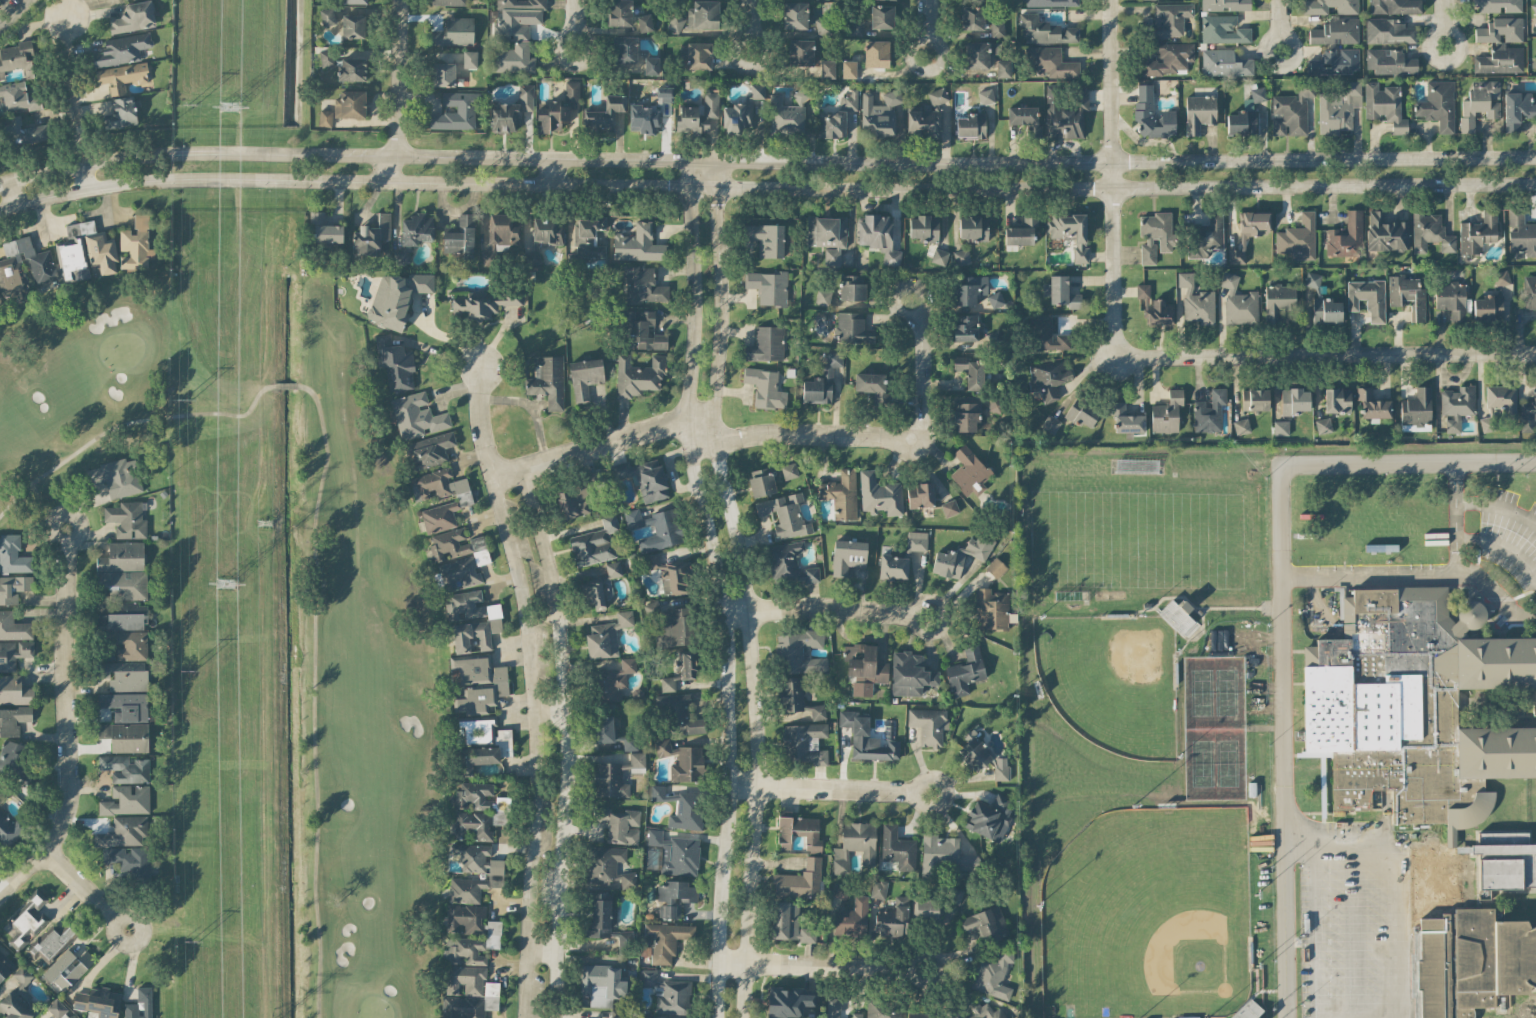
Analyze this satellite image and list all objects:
building: (126, 0)
building: (355, 1)
building: (449, 2)
building: (1047, 2)
building: (1224, 5)
building: (1498, 5)
building: (1395, 6)
building: (1534, 6)
building: (1314, 9)
building: (619, 12)
road: (15, 13)
building: (703, 14)
building: (795, 15)
building: (327, 16)
building: (882, 16)
building: (133, 17)
building: (971, 17)
building: (1170, 19)
building: (674, 21)
building: (644, 22)
road: (573, 24)
building: (996, 24)
road: (1443, 24)
building: (822, 25)
building: (353, 26)
road: (1279, 26)
road: (750, 27)
building: (856, 27)
road: (925, 27)
building: (1222, 29)
building: (1044, 30)
building: (1388, 30)
building: (1500, 30)
building: (1335, 31)
building: (454, 32)
building: (515, 34)
building: (121, 49)
building: (625, 49)
building: (802, 50)
building: (877, 53)
building: (977, 54)
building: (699, 55)
building: (326, 57)
building: (1168, 58)
building: (16, 59)
building: (469, 59)
building: (1499, 59)
building: (1336, 61)
building: (1389, 61)
building: (1052, 63)
building: (1223, 63)
building: (651, 65)
building: (848, 68)
building: (351, 69)
building: (827, 69)
building: (1003, 69)
building: (443, 74)
building: (121, 76)
building: (757, 90)
road: (396, 91)
building: (1258, 93)
building: (985, 96)
building: (19, 97)
road: (72, 100)
building: (849, 100)
building: (1480, 103)
building: (350, 104)
building: (1438, 104)
power tower: (191, 105)
building: (1384, 105)
power tower: (227, 107)
building: (558, 108)
building: (1338, 108)
building: (1517, 109)
building: (456, 110)
building: (1291, 110)
building: (511, 111)
building: (648, 112)
building: (1199, 112)
building: (121, 113)
building: (1064, 113)
building: (878, 114)
building: (1152, 114)
building: (697, 115)
building: (1022, 115)
building: (737, 116)
building: (927, 116)
building: (325, 117)
building: (784, 117)
building: (1241, 119)
building: (831, 124)
building: (971, 125)
building: (24, 130)
road: (766, 162)
road: (548, 171)
road: (1112, 179)
road: (194, 181)
road: (964, 187)
road: (9, 194)
building: (923, 227)
building: (417, 228)
building: (973, 228)
building: (323, 229)
building: (1020, 232)
building: (1070, 232)
building: (1248, 232)
building: (1385, 232)
building: (1430, 232)
building: (1478, 232)
building: (1521, 232)
building: (1155, 235)
building: (460, 236)
building: (498, 236)
building: (543, 236)
building: (827, 236)
building: (878, 236)
building: (1205, 236)
building: (1345, 236)
building: (766, 238)
building: (1297, 238)
building: (587, 239)
building: (638, 244)
building: (135, 245)
building: (85, 251)
building: (401, 255)
building: (939, 256)
building: (961, 256)
building: (24, 266)
building: (1501, 277)
building: (1312, 279)
building: (643, 286)
building: (768, 286)
building: (851, 287)
building: (970, 288)
building: (1529, 291)
building: (1060, 292)
building: (1406, 294)
building: (396, 296)
building: (822, 297)
building: (1367, 297)
building: (1451, 298)
building: (995, 299)
building: (1278, 299)
building: (1195, 301)
building: (484, 302)
building: (1238, 302)
building: (1154, 307)
building: (1488, 307)
building: (1325, 310)
building: (965, 327)
building: (853, 328)
building: (643, 330)
building: (1048, 335)
building: (766, 343)
road: (1323, 357)
building: (395, 362)
building: (970, 371)
building: (638, 375)
building: (584, 377)
building: (1049, 379)
building: (547, 380)
building: (821, 381)
building: (871, 385)
building: (765, 387)
building: (1254, 399)
building: (1293, 400)
building: (1337, 400)
power tower: (186, 401)
building: (1372, 403)
building: (995, 404)
building: (1498, 404)
building: (1456, 405)
building: (1416, 407)
building: (1209, 410)
building: (1081, 412)
building: (1166, 412)
building: (416, 415)
building: (1527, 415)
building: (966, 416)
building: (1126, 419)
road: (479, 422)
building: (1050, 423)
building: (1323, 425)
building: (1241, 426)
building: (1280, 427)
road: (876, 437)
road: (601, 443)
building: (429, 450)
building: (789, 470)
building: (969, 471)
building: (116, 477)
building: (644, 477)
building: (761, 481)
building: (841, 494)
building: (879, 494)
building: (920, 494)
building: (576, 496)
building: (464, 499)
road: (1498, 506)
building: (949, 507)
building: (784, 515)
building: (126, 519)
power tower: (261, 525)
building: (655, 528)
park: (1141, 536)
building: (916, 540)
building: (594, 542)
road: (1503, 545)
building: (13, 554)
building: (847, 555)
building: (122, 556)
building: (960, 556)
building: (458, 557)
building: (784, 560)
building: (893, 566)
building: (995, 567)
road: (1423, 572)
building: (672, 574)
building: (811, 574)
power tower: (223, 582)
building: (123, 584)
building: (601, 586)
building: (13, 587)
road: (719, 588)
road: (744, 588)
road: (1494, 596)
building: (464, 604)
road: (826, 606)
building: (994, 608)
building: (1178, 616)
building: (494, 617)
road: (1285, 617)
building: (121, 621)
building: (673, 625)
building: (13, 626)
building: (470, 635)
building: (606, 635)
building: (130, 644)
building: (800, 650)
building: (14, 652)
building: (864, 667)
building: (680, 670)
power tower: (187, 671)
building: (965, 671)
building: (910, 674)
building: (124, 675)
park: (360, 675)
building: (615, 680)
park: (1110, 681)
building: (476, 682)
building: (14, 690)
building: (797, 698)
road: (548, 702)
building: (125, 705)
building: (1416, 705)
building: (683, 714)
building: (13, 719)
road: (66, 723)
park: (1211, 723)
building: (928, 724)
building: (603, 729)
building: (125, 736)
road: (564, 740)
building: (628, 740)
building: (803, 742)
building: (481, 743)
road: (532, 745)
building: (664, 748)
building: (975, 752)
building: (15, 760)
building: (687, 764)
building: (125, 768)
building: (1001, 768)
building: (616, 775)
road: (829, 788)
building: (661, 793)
building: (126, 800)
building: (476, 811)
building: (686, 811)
building: (987, 815)
building: (619, 823)
building: (9, 829)
building: (124, 831)
building: (799, 832)
building: (854, 845)
building: (897, 847)
building: (944, 852)
building: (675, 853)
building: (129, 859)
building: (1504, 864)
building: (607, 867)
building: (495, 874)
building: (799, 880)
road: (1394, 880)
building: (878, 889)
road: (86, 895)
building: (955, 895)
building: (674, 897)
building: (924, 907)
building: (599, 914)
building: (852, 917)
park: (1147, 917)
building: (893, 918)
building: (984, 921)
building: (788, 922)
building: (491, 935)
power tower: (193, 939)
building: (664, 940)
building: (624, 941)
building: (51, 943)
building: (1465, 947)
road: (542, 951)
road: (821, 966)
building: (67, 968)
building: (3, 970)
building: (993, 974)
building: (602, 984)
building: (667, 992)
building: (468, 993)
building: (17, 997)
building: (787, 1001)
building: (98, 1002)
building: (147, 1002)
building: (836, 1008)
building: (882, 1009)
building: (1247, 1010)
building: (981, 1011)
building: (918, 1015)
building: (616, 1017)

